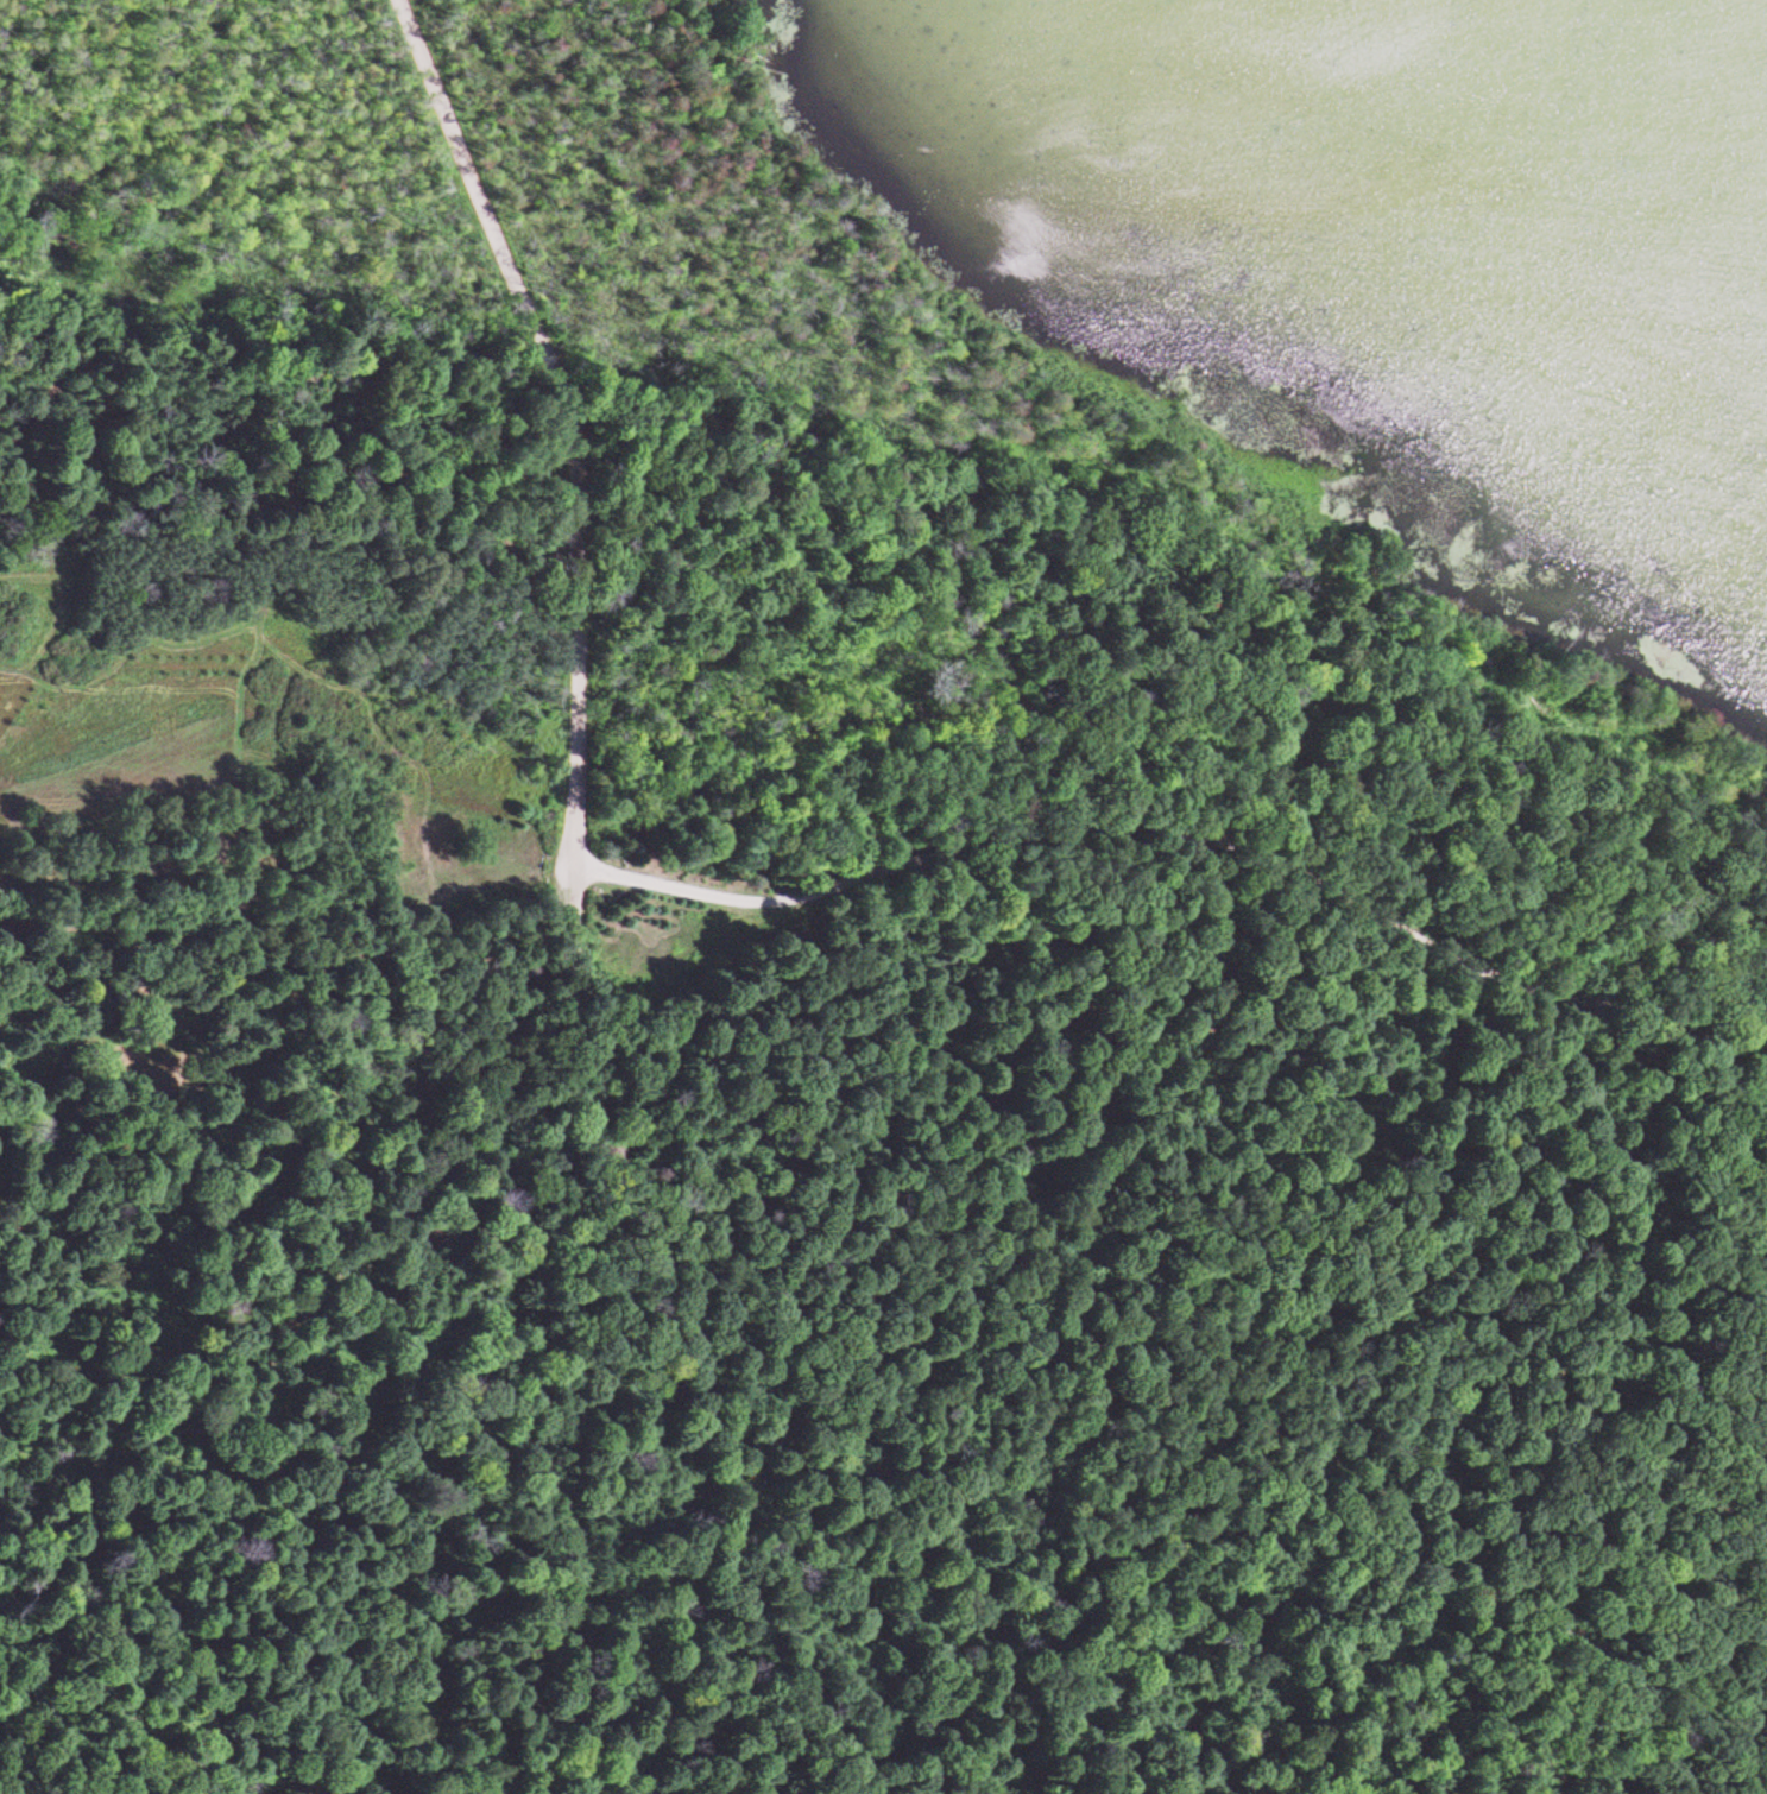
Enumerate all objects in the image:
road: (574, 435)
road: (294, 511)
road: (1198, 836)
road: (491, 873)
parking lot: (427, 880)
building: (1766, 899)
road: (1759, 1073)
road: (342, 1250)
road: (570, 1351)
road: (213, 1585)

